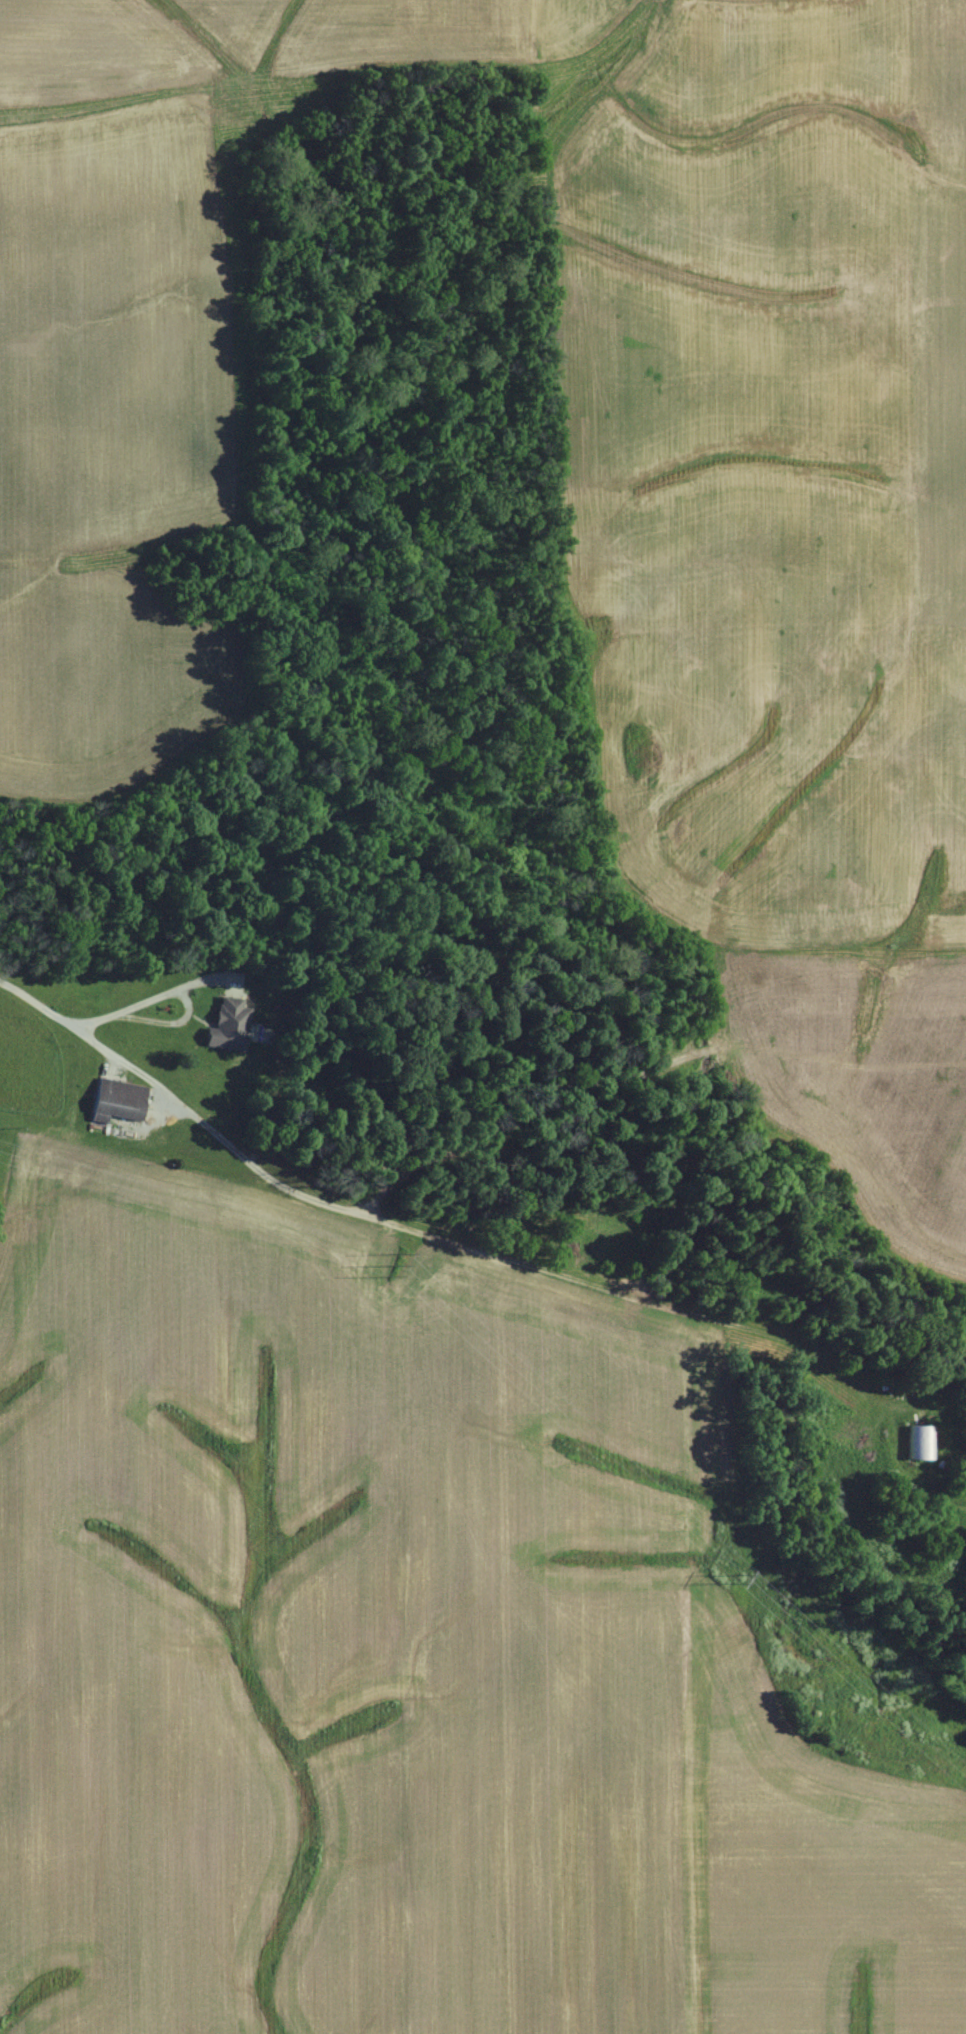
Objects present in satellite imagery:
building: (226, 1025)
building: (116, 1101)
road: (432, 1237)
power tower: (399, 1271)
building: (919, 1443)
power tower: (738, 1579)

